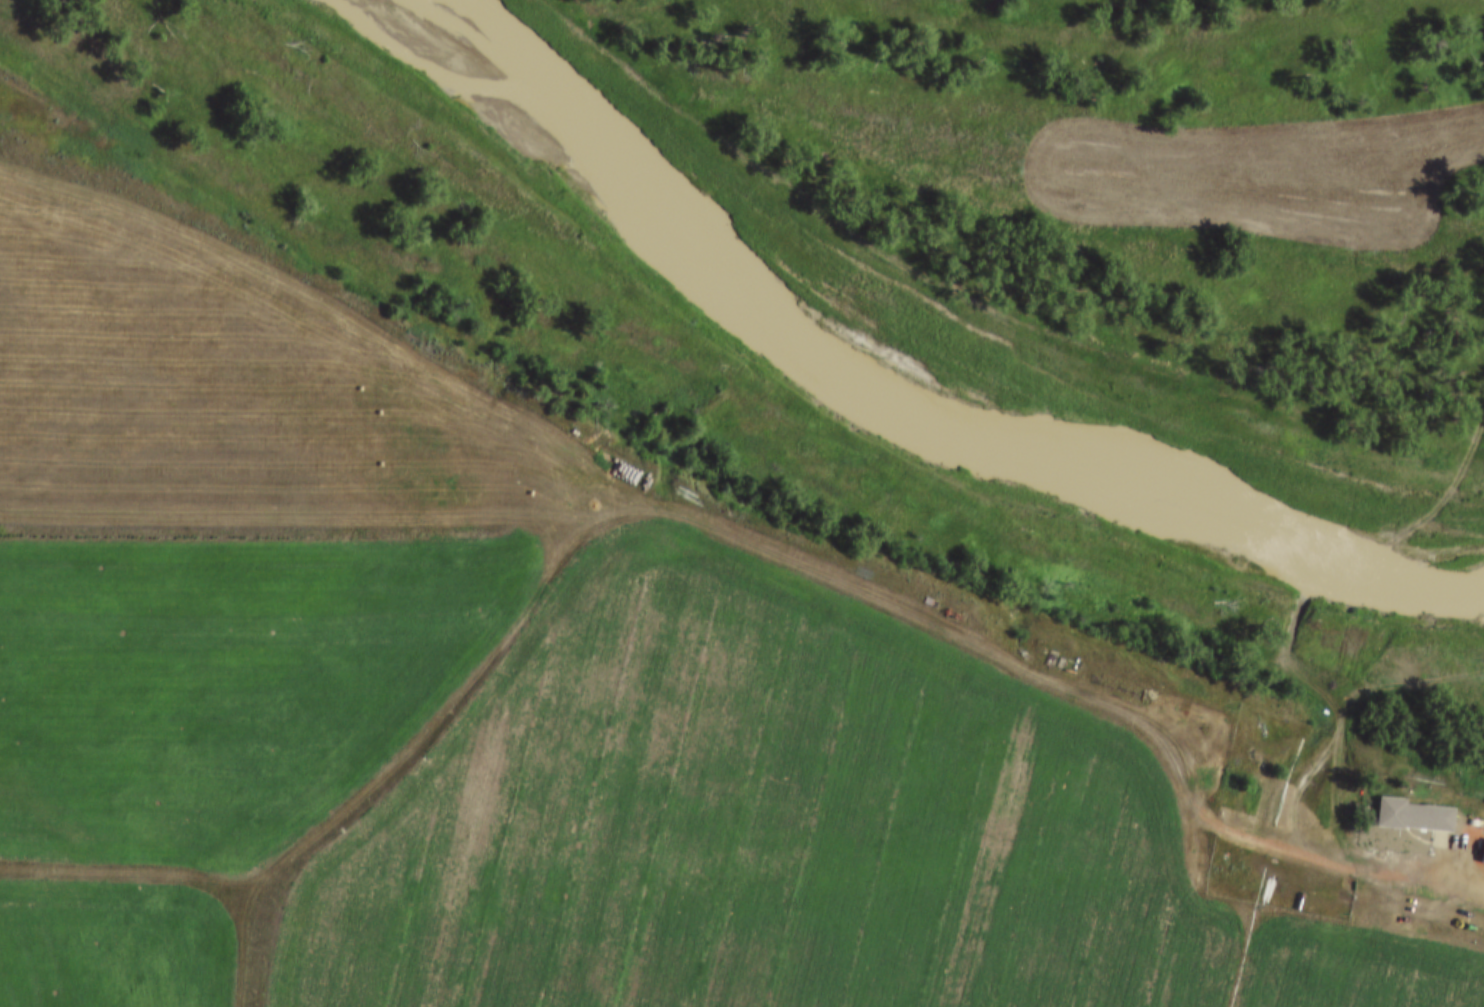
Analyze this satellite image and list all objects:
river: (899, 406)
road: (1045, 676)
building: (1414, 816)
road: (1451, 872)

